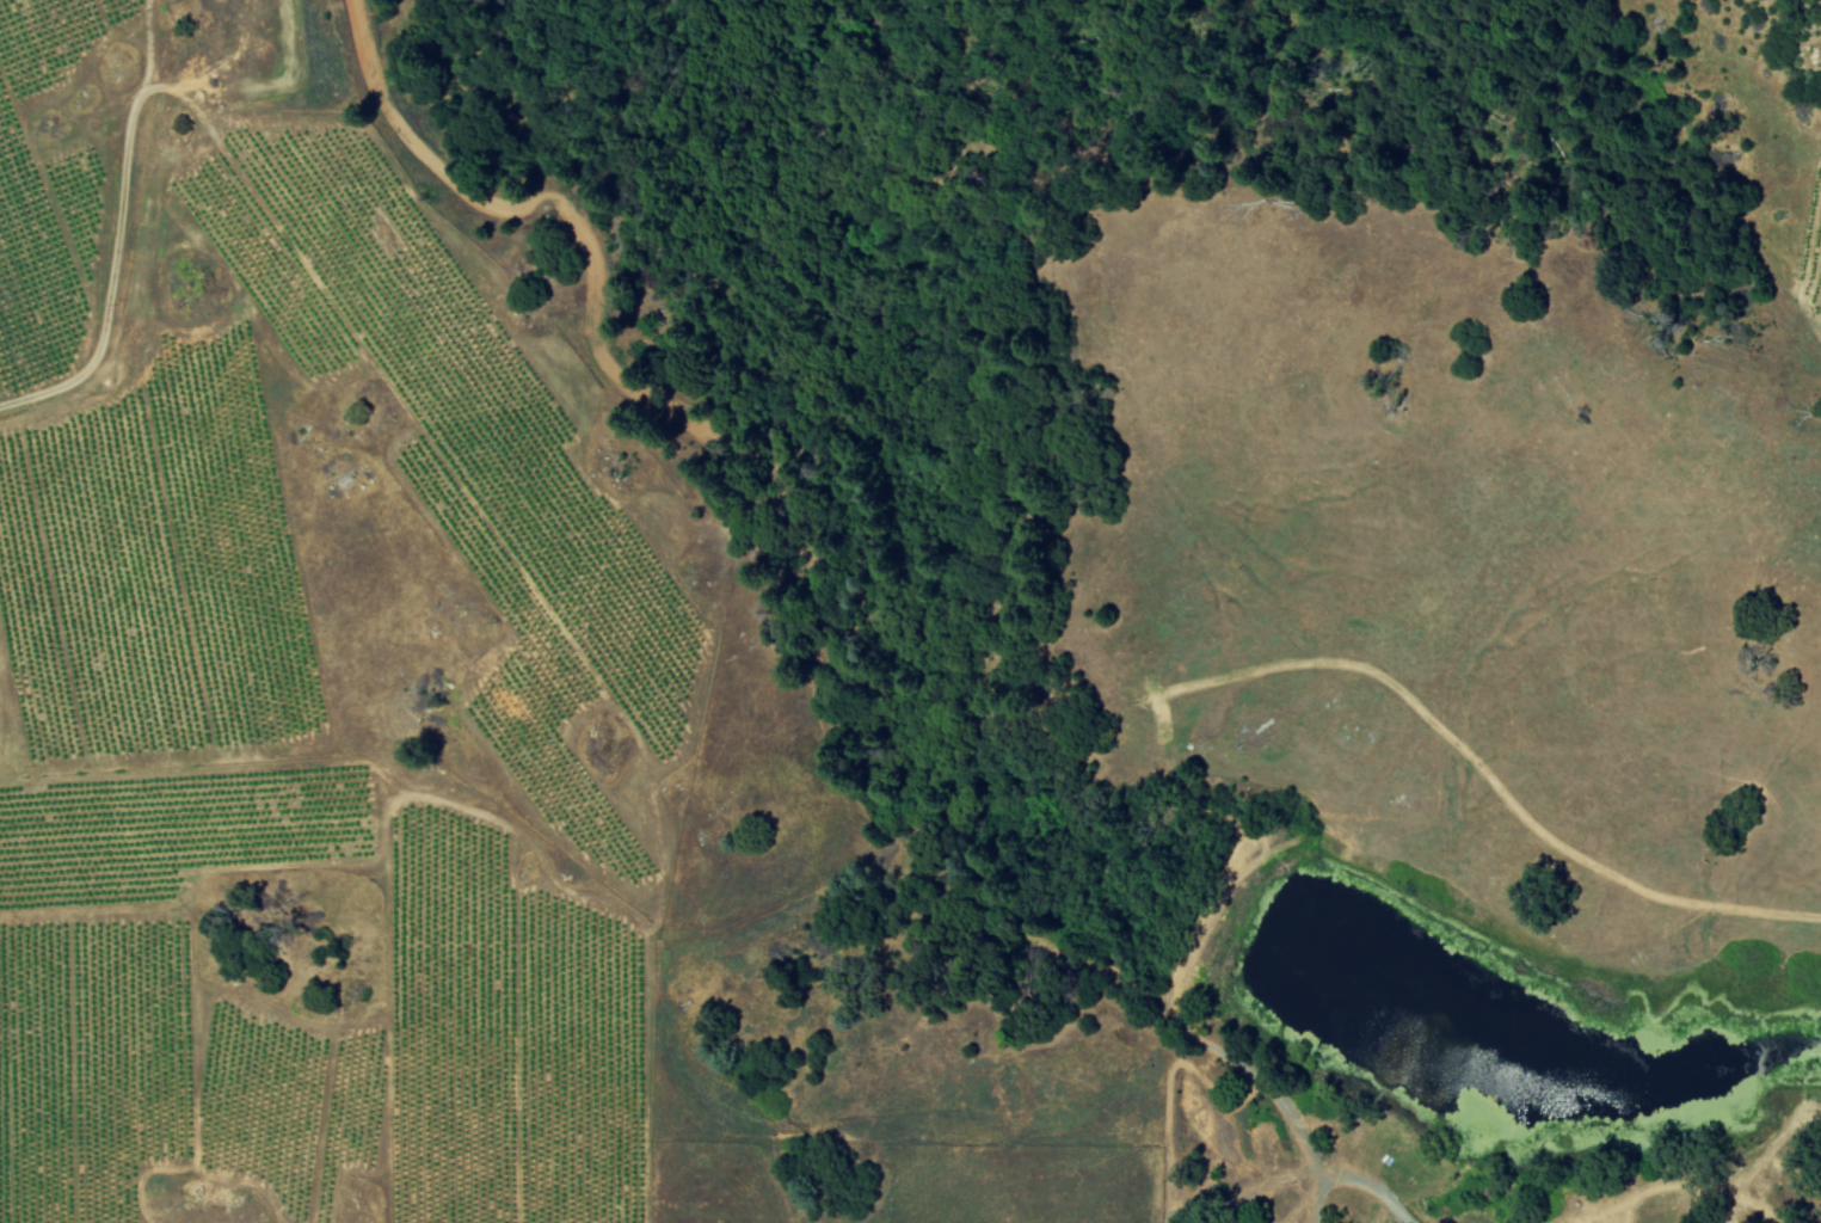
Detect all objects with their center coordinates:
crop: (1814, 246)
road: (1302, 1138)

